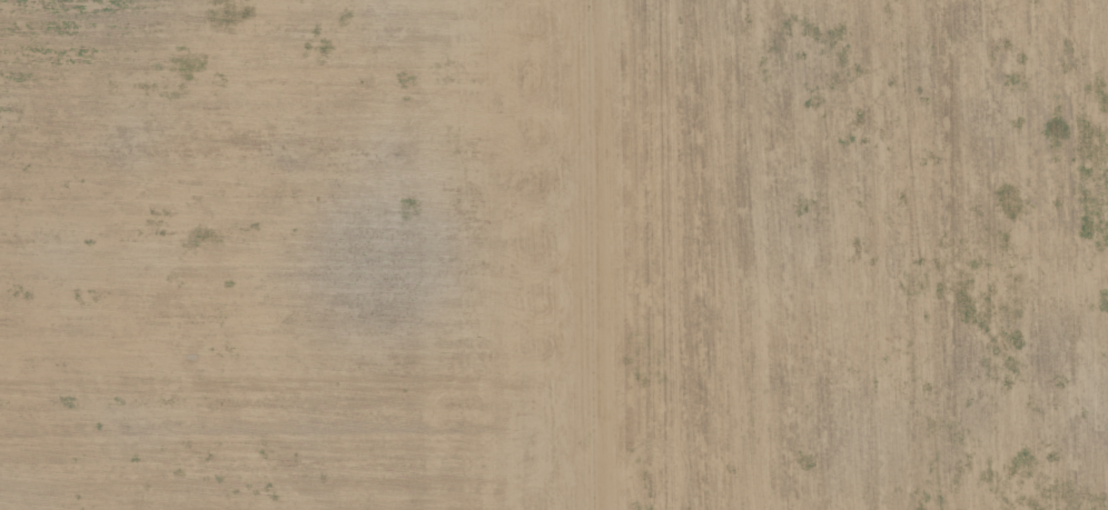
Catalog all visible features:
road: (591, 254)

